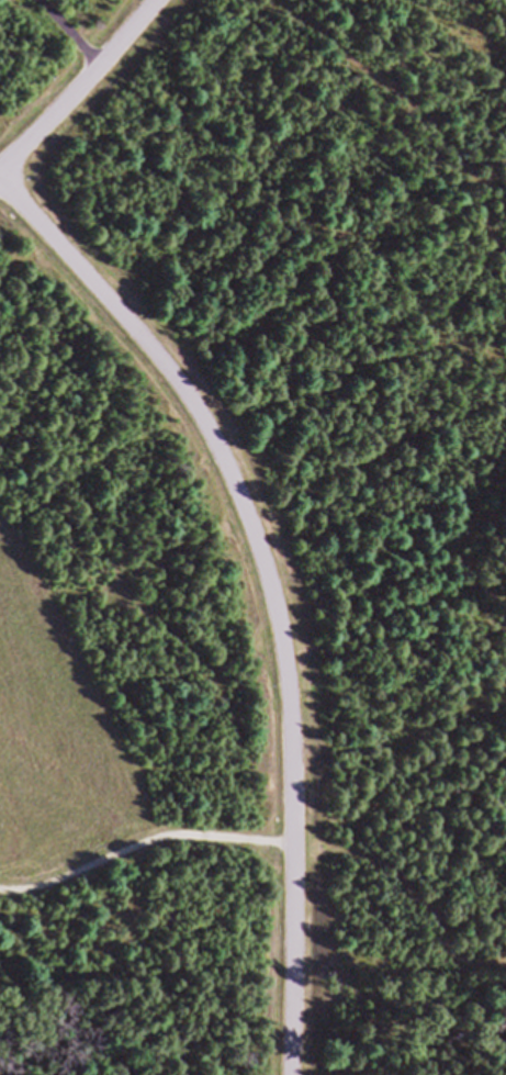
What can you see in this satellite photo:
road: (93, 94)
road: (276, 585)
road: (147, 852)

